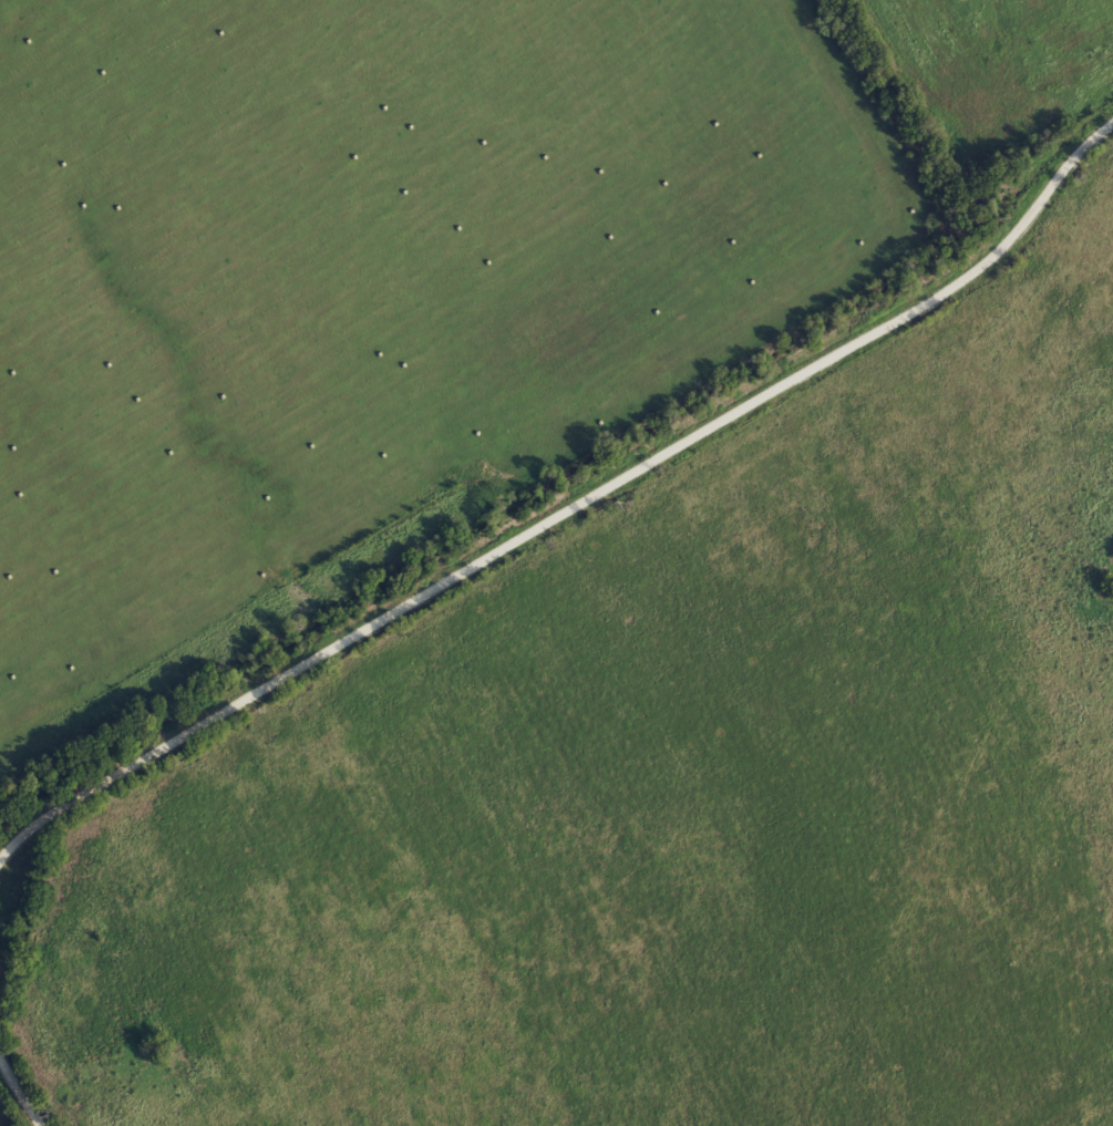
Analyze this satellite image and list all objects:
road: (569, 515)
road: (23, 1086)

